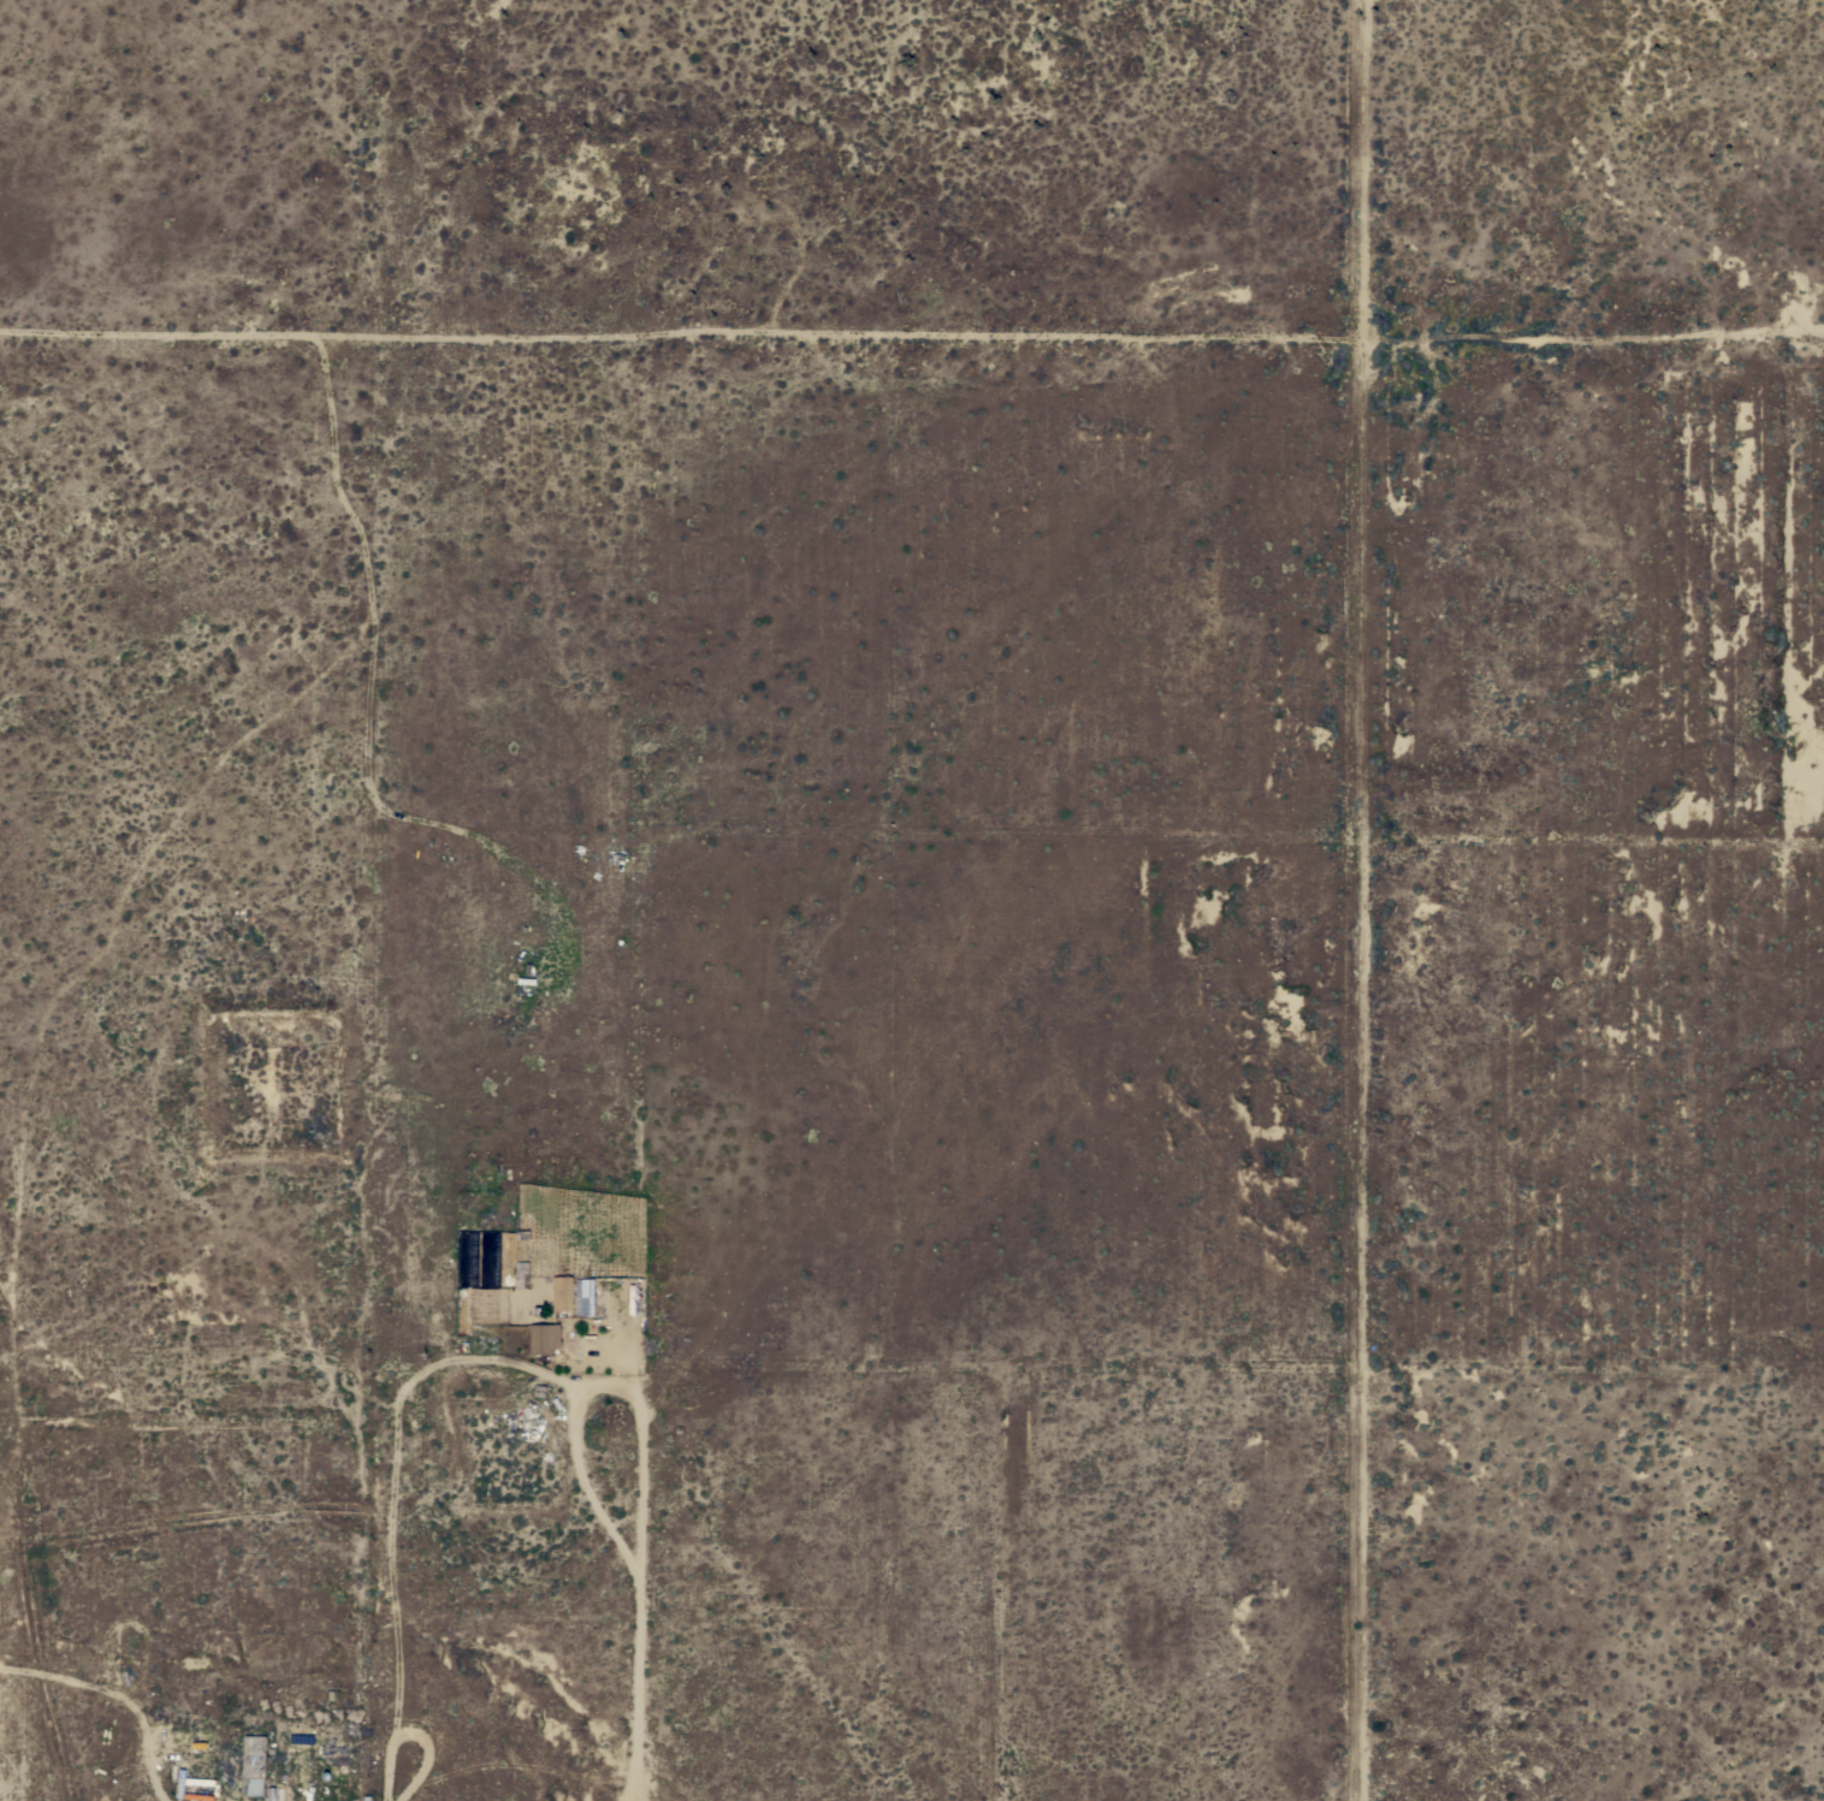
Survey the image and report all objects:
building: (563, 1292)
building: (632, 1298)
building: (544, 1338)
road: (591, 1386)
road: (392, 1462)
road: (632, 1684)
road: (407, 1732)
building: (255, 1765)
building: (200, 1781)
building: (180, 1782)
building: (199, 1796)

